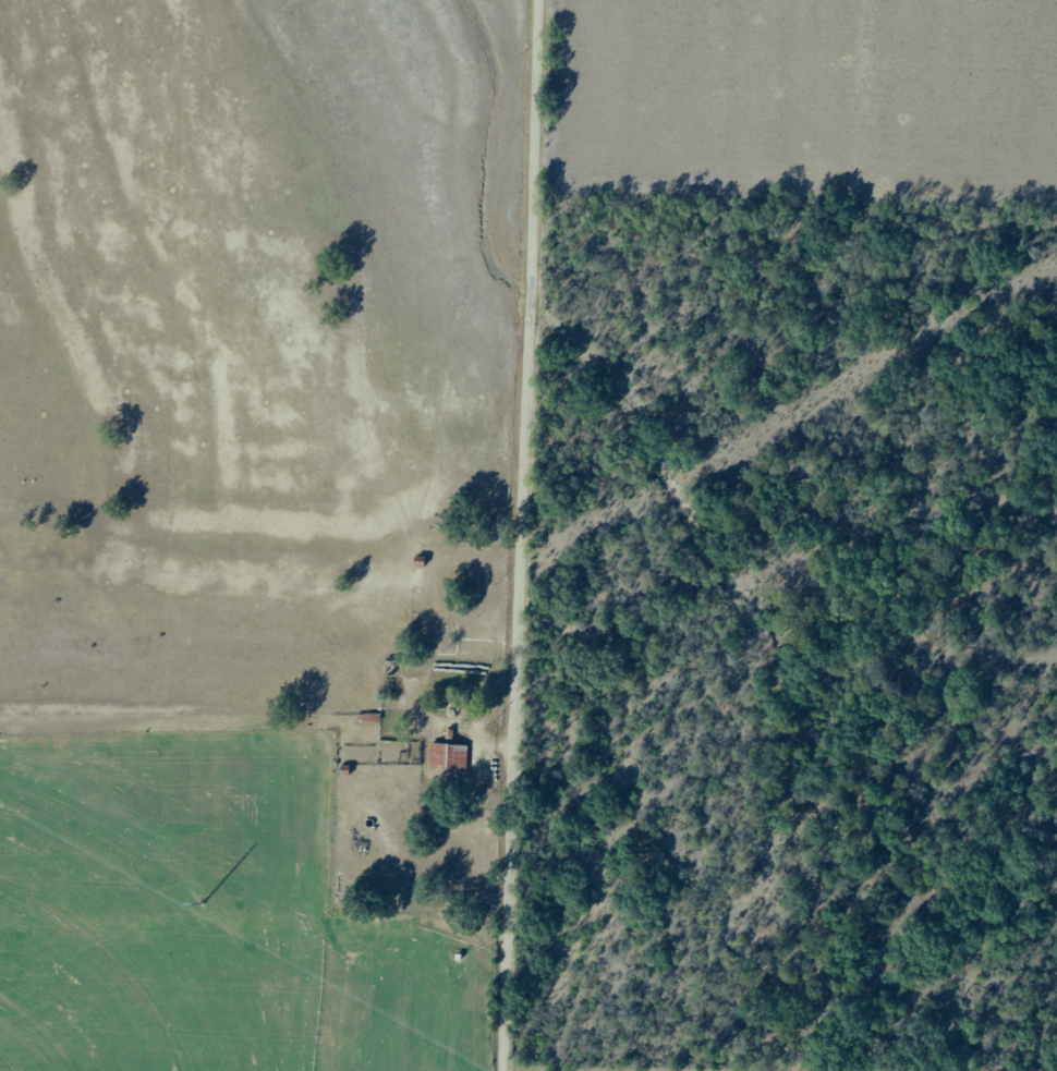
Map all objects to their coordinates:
road: (520, 535)
building: (448, 757)
power tower: (203, 904)

